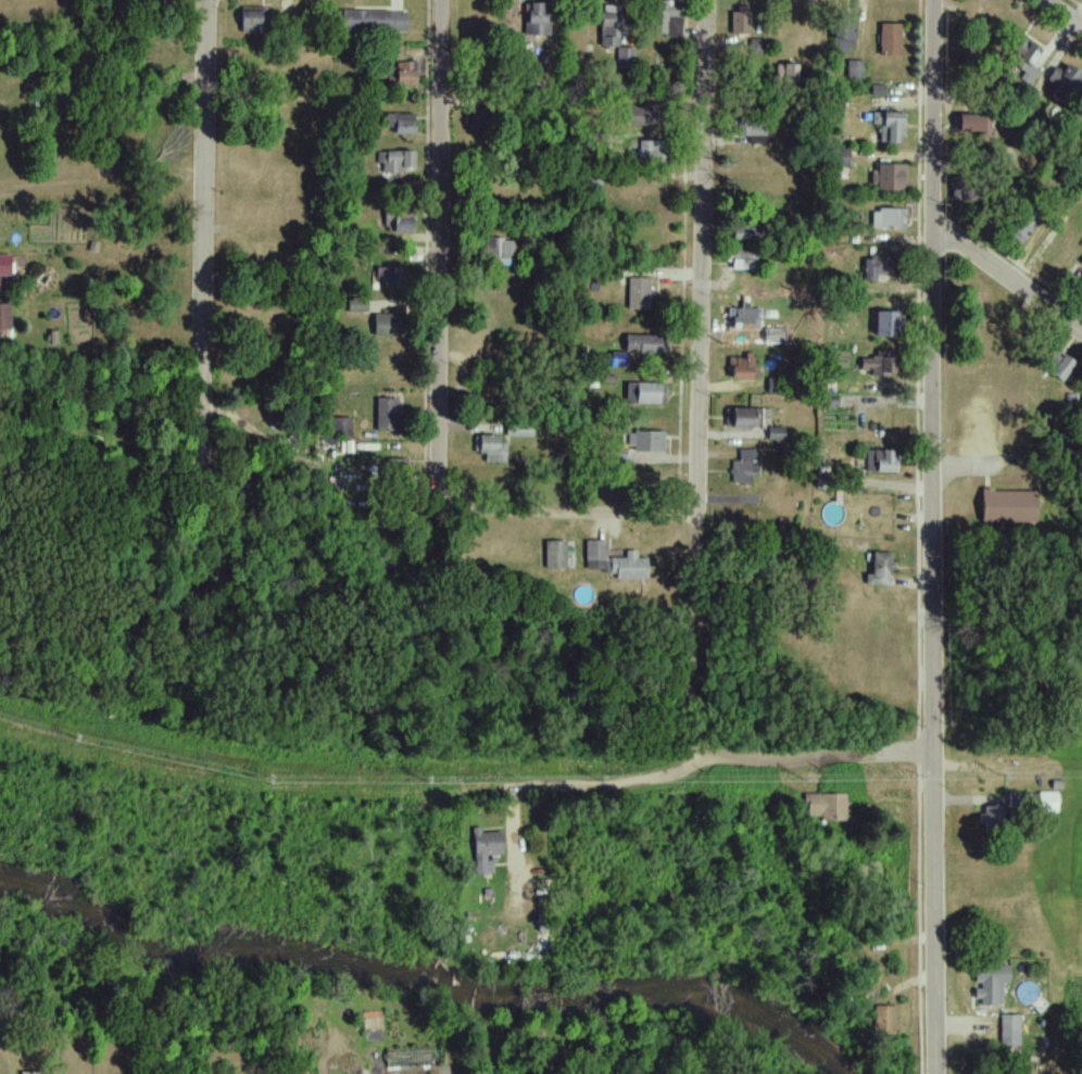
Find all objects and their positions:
building: (159, 1)
road: (1058, 15)
building: (251, 18)
building: (666, 18)
building: (372, 21)
building: (533, 21)
building: (739, 23)
building: (608, 25)
building: (842, 34)
building: (889, 39)
building: (755, 46)
building: (625, 56)
building: (1023, 60)
building: (854, 68)
building: (403, 73)
building: (784, 73)
building: (1062, 79)
building: (877, 90)
building: (638, 115)
building: (1081, 121)
building: (399, 123)
building: (973, 125)
building: (888, 126)
building: (750, 130)
building: (642, 152)
building: (838, 157)
building: (395, 161)
building: (889, 177)
building: (888, 218)
building: (397, 220)
building: (1020, 227)
building: (740, 231)
road: (203, 233)
road: (441, 242)
building: (494, 250)
building: (741, 260)
building: (1081, 263)
building: (3, 265)
building: (875, 265)
building: (389, 278)
road: (1006, 280)
building: (1081, 282)
building: (636, 293)
building: (355, 304)
building: (4, 316)
building: (743, 318)
building: (385, 325)
building: (884, 325)
building: (773, 336)
building: (637, 348)
building: (878, 363)
building: (1056, 365)
building: (742, 368)
building: (643, 393)
building: (386, 415)
building: (747, 417)
building: (339, 425)
building: (773, 433)
building: (645, 442)
building: (490, 448)
building: (879, 462)
building: (394, 467)
building: (743, 467)
road: (695, 491)
building: (1006, 506)
road: (562, 514)
road: (932, 536)
building: (554, 554)
building: (593, 555)
building: (626, 567)
building: (880, 570)
road: (583, 786)
building: (1046, 801)
building: (826, 806)
building: (991, 816)
building: (485, 849)
building: (989, 984)
building: (883, 1020)
building: (1008, 1029)
building: (28, 1073)

